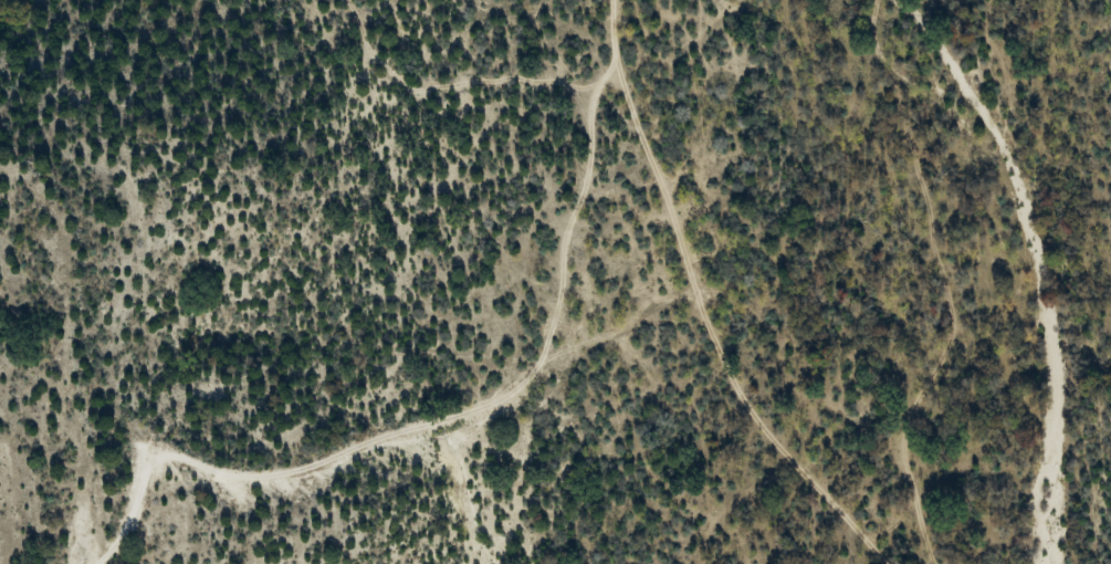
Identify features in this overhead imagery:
road: (688, 307)
road: (457, 420)

